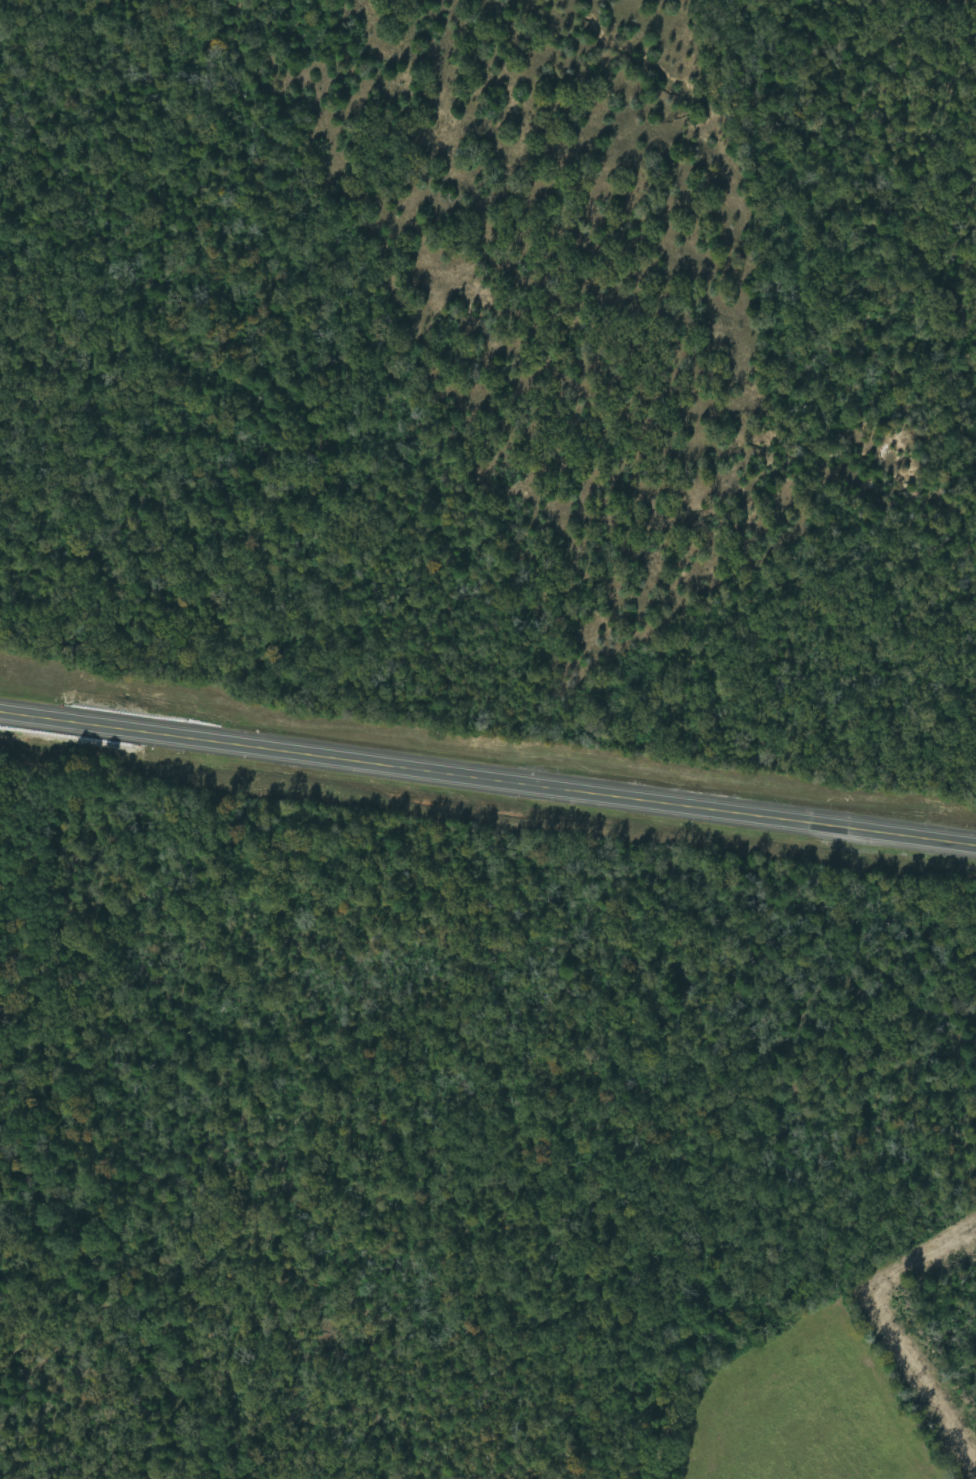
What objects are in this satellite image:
road: (488, 783)

